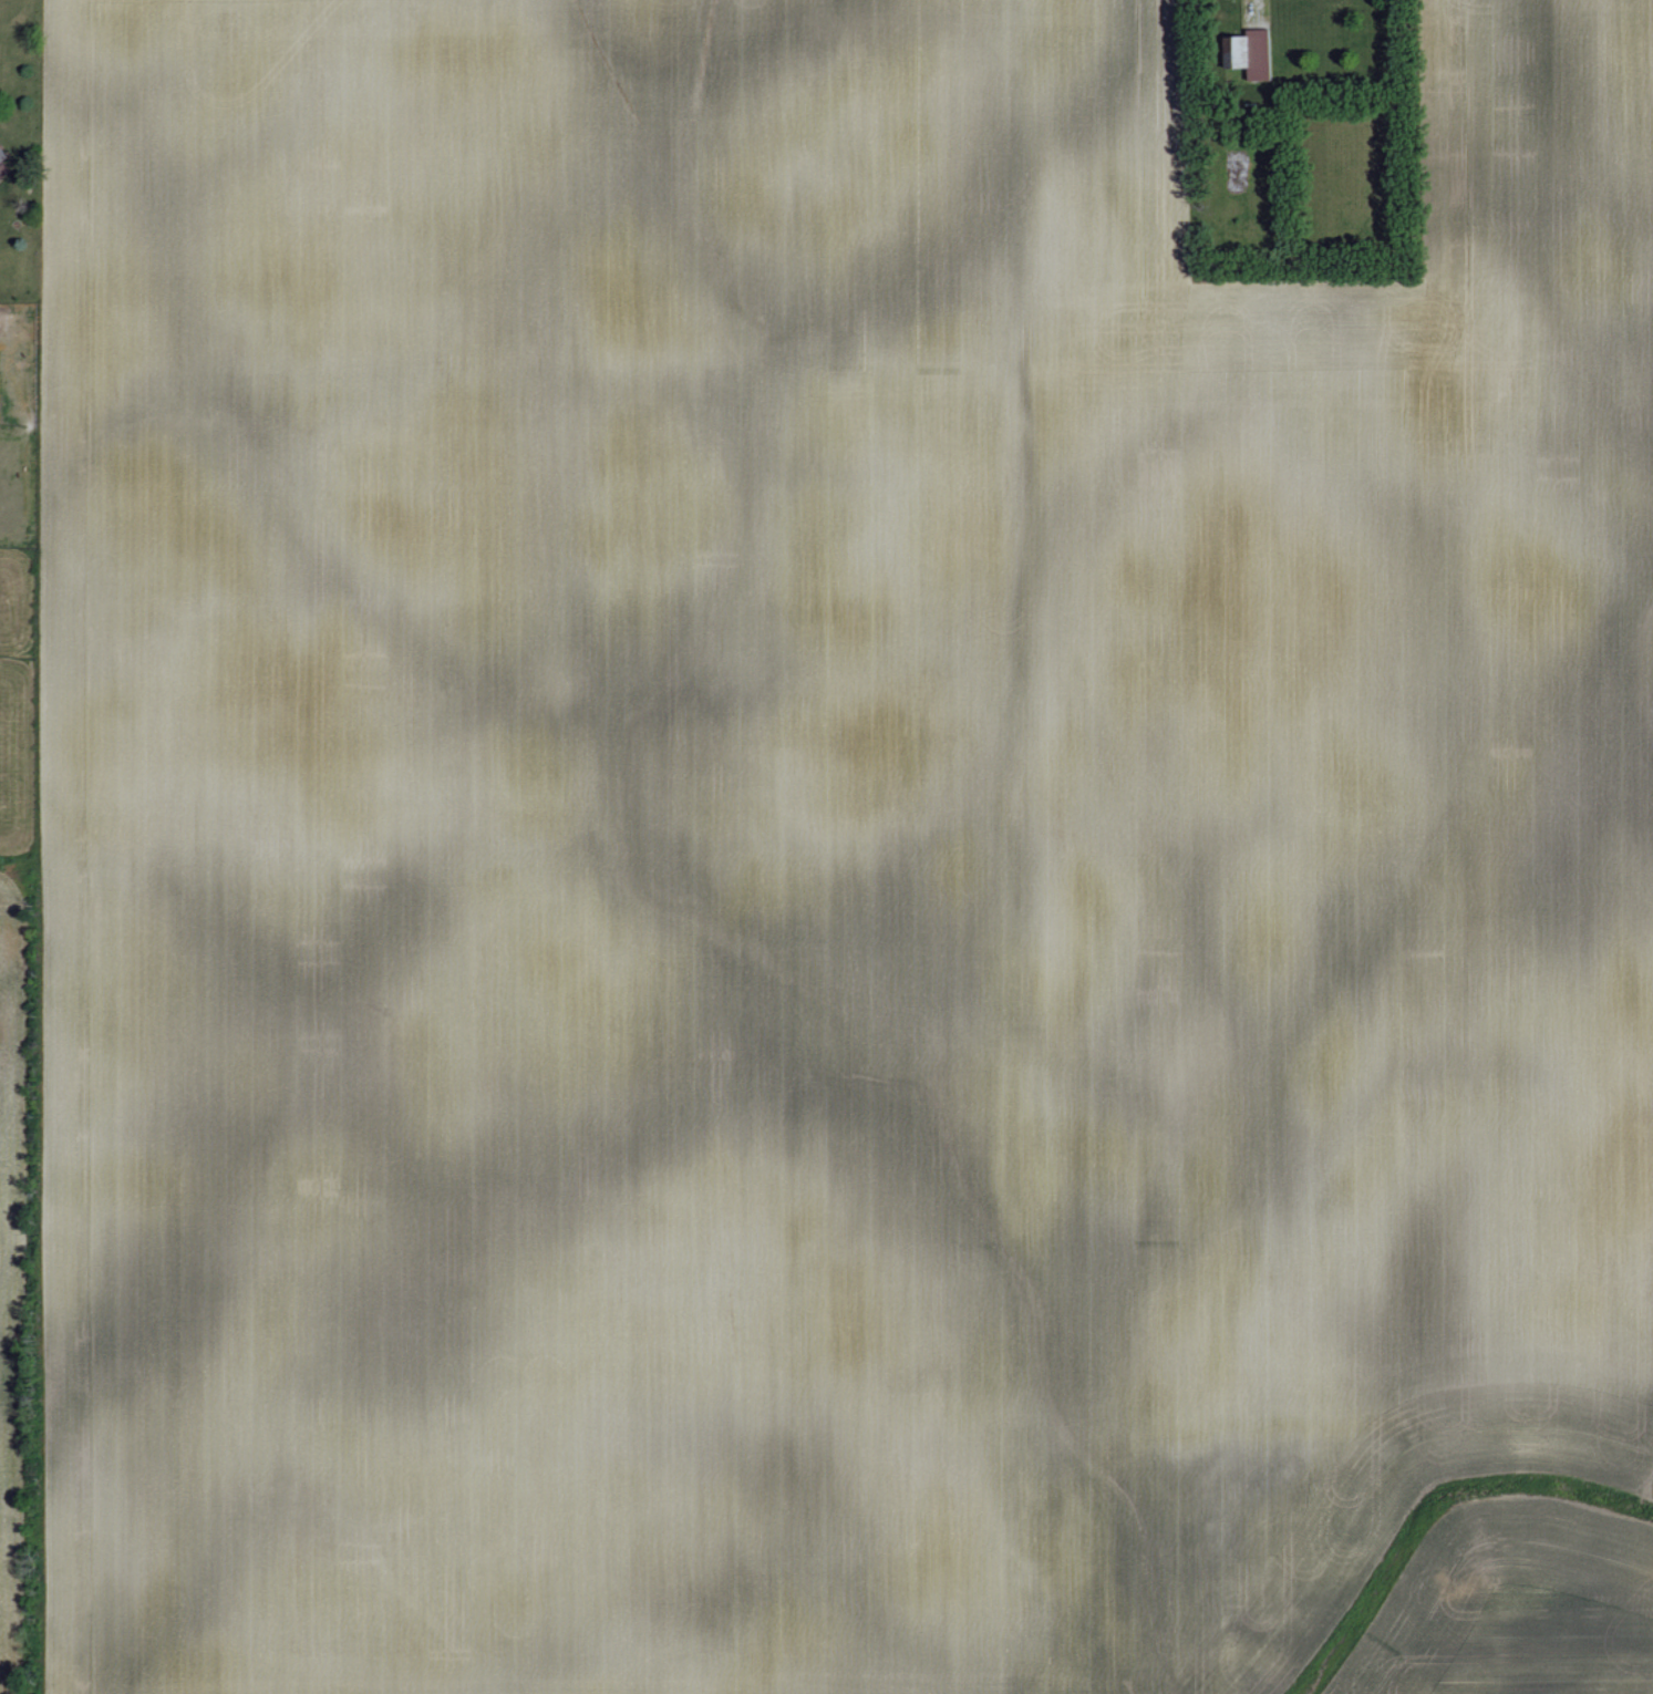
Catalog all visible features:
building: (1256, 53)
building: (2, 155)

